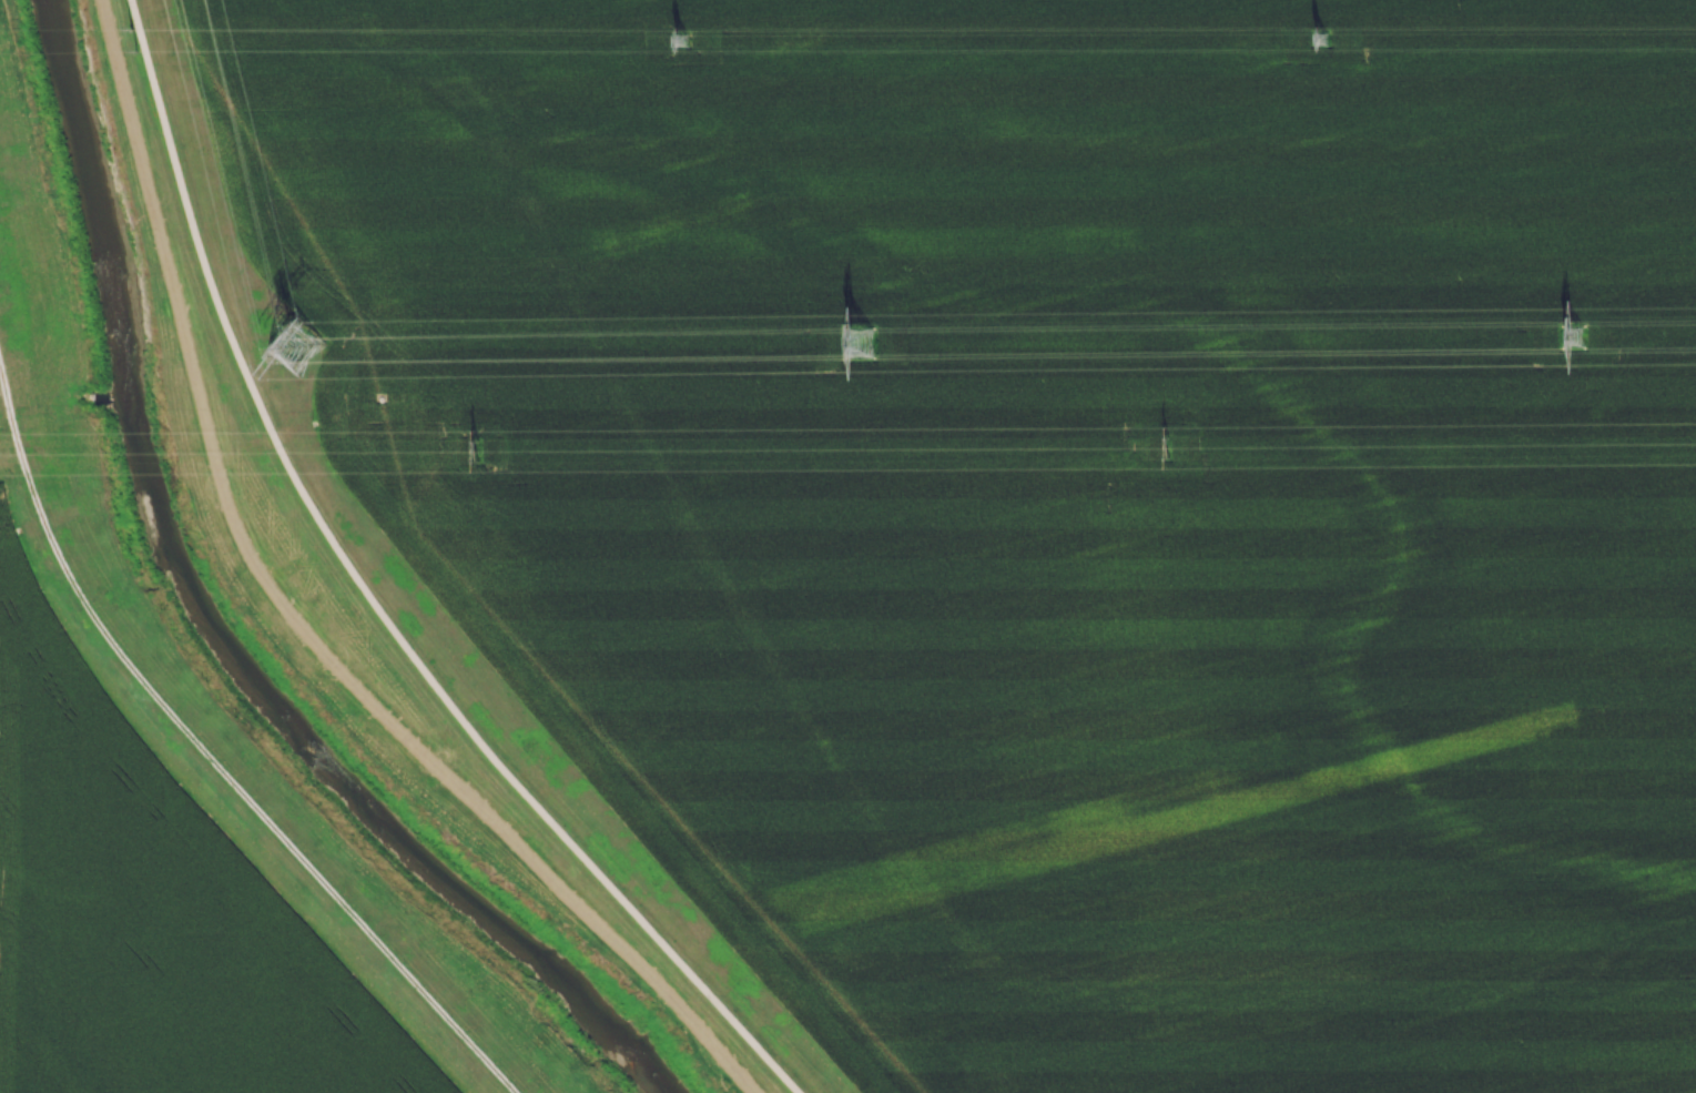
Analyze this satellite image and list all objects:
power tower: (129, 39)
power tower: (1319, 40)
power tower: (678, 42)
river: (94, 206)
power tower: (1575, 340)
power tower: (859, 345)
power tower: (290, 351)
power tower: (1169, 447)
power tower: (483, 457)
crop: (1058, 495)
road: (373, 600)
river: (338, 793)

